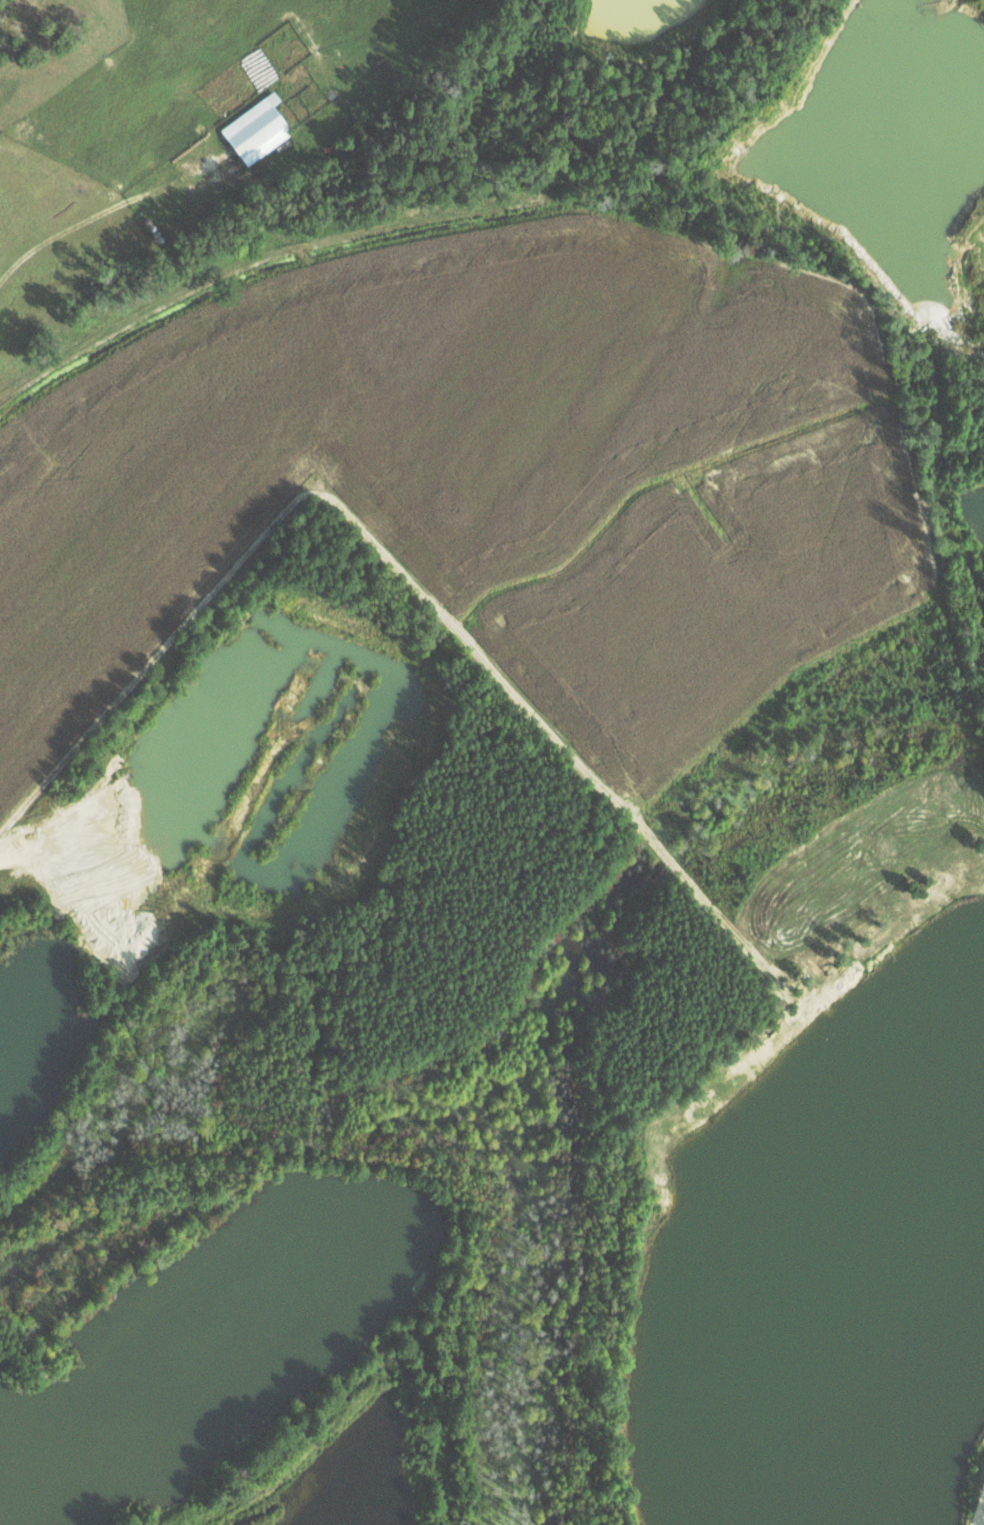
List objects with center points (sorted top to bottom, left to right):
building: (257, 130)
road: (343, 1161)

